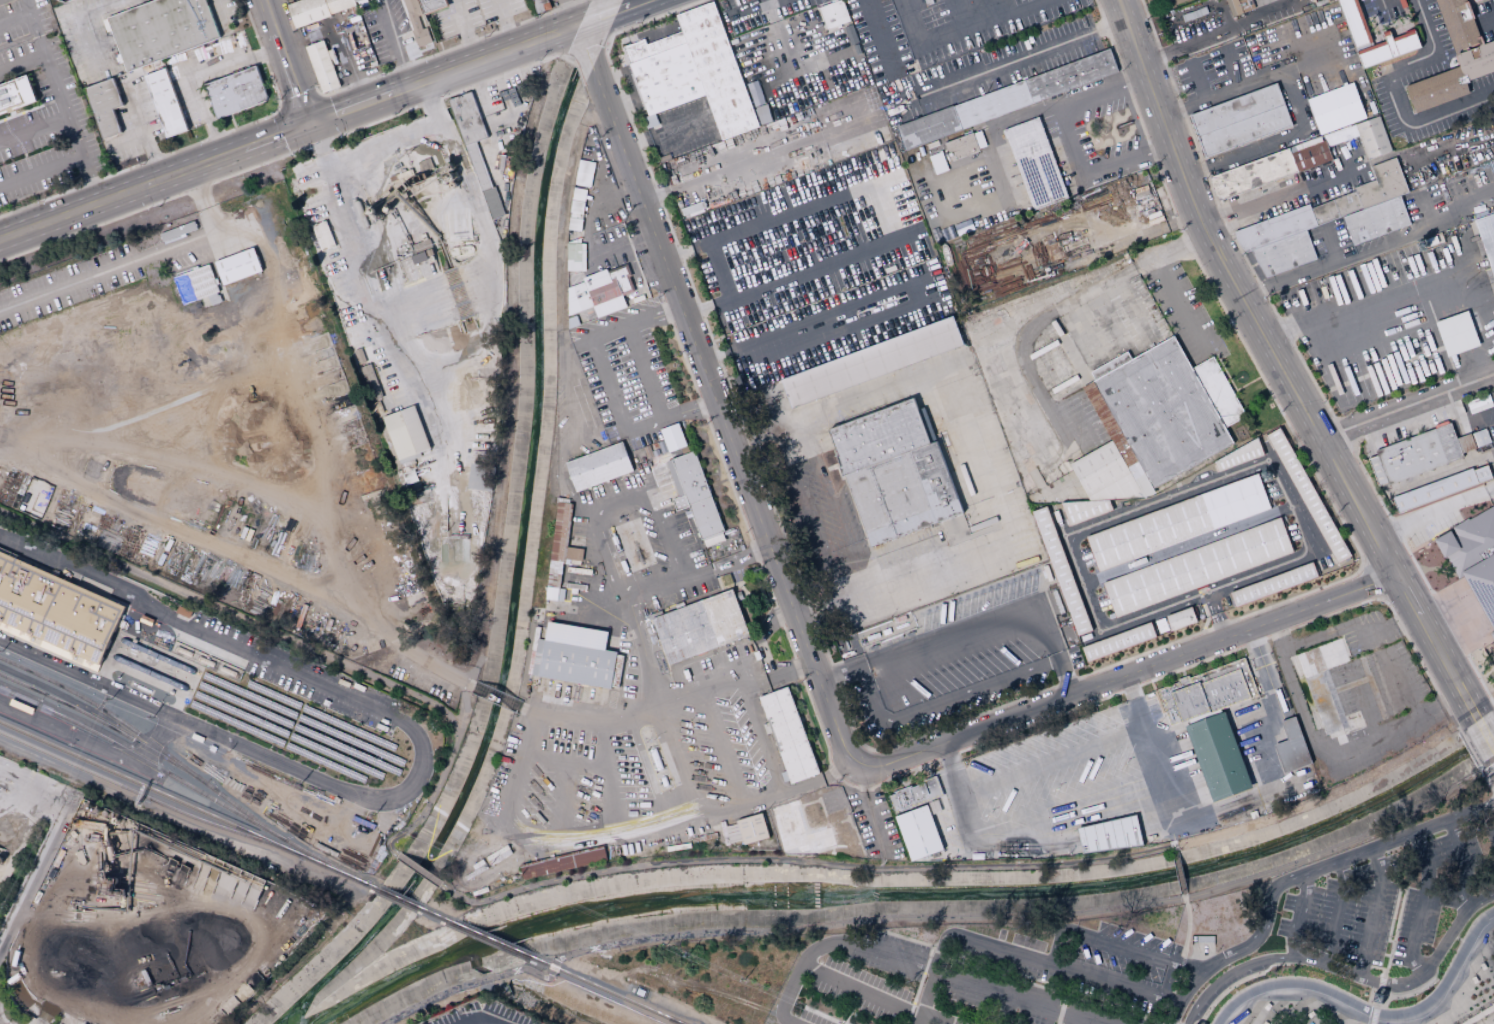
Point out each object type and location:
building: (355, 1)
road: (1120, 1)
building: (1176, 1)
road: (1382, 4)
building: (337, 5)
building: (540, 5)
building: (431, 6)
building: (1233, 7)
road: (747, 9)
road: (772, 10)
building: (306, 11)
road: (574, 12)
parking lot: (757, 13)
building: (1189, 13)
building: (833, 14)
road: (962, 15)
road: (15, 19)
road: (592, 20)
building: (415, 22)
road: (504, 23)
building: (1355, 23)
building: (1459, 25)
road: (564, 29)
building: (161, 30)
road: (464, 30)
road: (960, 32)
building: (356, 36)
road: (339, 38)
road: (880, 38)
building: (377, 41)
road: (396, 43)
road: (603, 43)
road: (1192, 43)
road: (584, 45)
building: (651, 46)
building: (1388, 49)
road: (569, 55)
road: (287, 61)
road: (476, 61)
road: (1010, 62)
building: (1477, 62)
parking lot: (797, 63)
road: (23, 65)
building: (321, 66)
road: (403, 66)
building: (716, 70)
road: (196, 74)
building: (1070, 75)
road: (54, 78)
building: (666, 78)
road: (1195, 80)
road: (628, 85)
road: (865, 86)
building: (1438, 90)
building: (236, 92)
road: (1395, 92)
building: (16, 94)
road: (319, 95)
road: (479, 97)
road: (1295, 100)
building: (166, 103)
building: (993, 104)
building: (105, 106)
building: (1336, 108)
road: (1023, 112)
road: (326, 117)
building: (466, 118)
building: (1240, 120)
building: (650, 121)
traffic signals: (311, 123)
building: (927, 127)
road: (664, 128)
road: (34, 130)
building: (1374, 137)
building: (979, 139)
road: (1071, 143)
road: (311, 145)
road: (318, 145)
road: (383, 146)
building: (960, 147)
road: (759, 156)
building: (1311, 156)
building: (937, 163)
building: (1035, 163)
building: (477, 166)
road: (40, 172)
building: (584, 173)
building: (1253, 174)
road: (89, 179)
road: (155, 180)
building: (1382, 184)
road: (1121, 186)
road: (1292, 192)
building: (578, 194)
road: (202, 199)
building: (492, 203)
building: (1348, 204)
building: (576, 207)
building: (1482, 211)
building: (1325, 212)
building: (1125, 215)
road: (1221, 216)
road: (861, 218)
building: (1376, 221)
building: (574, 224)
road: (1171, 225)
building: (1275, 228)
building: (178, 231)
road: (1414, 235)
building: (323, 236)
building: (1139, 237)
road: (1139, 237)
parking lot: (809, 238)
building: (1487, 238)
road: (1329, 243)
road: (621, 244)
road: (490, 245)
building: (1050, 249)
road: (1110, 249)
building: (1283, 254)
building: (575, 257)
building: (747, 261)
road: (129, 263)
building: (237, 266)
road: (1297, 274)
road: (995, 281)
building: (195, 284)
parking lot: (68, 285)
building: (600, 292)
road: (922, 293)
building: (1304, 296)
road: (440, 300)
road: (1340, 307)
road: (1180, 308)
road: (1053, 311)
road: (392, 316)
road: (1464, 316)
road: (635, 323)
parking lot: (1372, 327)
road: (1455, 330)
road: (1443, 332)
building: (1458, 334)
building: (871, 362)
building: (1110, 365)
road: (1278, 366)
parking lot: (633, 371)
road: (644, 373)
building: (370, 382)
building: (381, 386)
road: (607, 386)
building: (1218, 392)
road: (714, 399)
building: (1478, 404)
road: (1406, 406)
building: (378, 407)
road: (1452, 408)
building: (1163, 412)
road: (281, 413)
road: (669, 417)
road: (1477, 418)
road: (571, 426)
road: (1340, 431)
building: (405, 434)
building: (878, 437)
building: (671, 438)
road: (592, 444)
road: (1349, 444)
building: (1465, 444)
road: (1326, 450)
road: (977, 453)
building: (1414, 455)
road: (166, 456)
building: (1240, 456)
building: (598, 467)
road: (1441, 474)
building: (1483, 475)
building: (1105, 476)
building: (479, 478)
road: (717, 483)
building: (936, 483)
building: (1435, 491)
road: (1490, 494)
building: (1308, 495)
building: (695, 497)
road: (1167, 497)
building: (890, 500)
road: (833, 502)
road: (622, 503)
building: (1084, 511)
road: (1430, 516)
building: (1178, 523)
road: (1393, 527)
building: (560, 544)
road: (1188, 545)
road: (752, 546)
road: (238, 557)
building: (1474, 558)
road: (1387, 562)
building: (1197, 568)
road: (1363, 568)
road: (83, 569)
building: (1061, 571)
road: (694, 573)
road: (1375, 583)
building: (1274, 584)
road: (1403, 587)
building: (554, 594)
road: (1197, 594)
road: (1382, 598)
building: (182, 611)
building: (55, 612)
road: (1214, 615)
building: (1181, 618)
building: (145, 620)
road: (1435, 622)
building: (699, 626)
road: (972, 628)
railway: (98, 630)
road: (1278, 634)
building: (575, 635)
building: (1118, 641)
road: (302, 645)
railway: (95, 648)
road: (1465, 652)
road: (764, 655)
building: (536, 657)
building: (1324, 657)
building: (576, 664)
road: (1189, 665)
road: (280, 668)
road: (1352, 670)
building: (616, 671)
road: (1129, 674)
road: (1357, 682)
road: (1400, 682)
building: (1350, 684)
building: (1373, 687)
road: (691, 688)
building: (1207, 691)
road: (496, 697)
road: (943, 700)
building: (1325, 702)
road: (1006, 704)
road: (1493, 705)
building: (21, 706)
road: (659, 709)
road: (1272, 709)
railway: (105, 712)
road: (1368, 712)
road: (1303, 715)
road: (1484, 733)
building: (787, 735)
road: (1146, 740)
road: (154, 742)
road: (78, 743)
road: (237, 743)
road: (723, 744)
railway: (143, 745)
building: (1292, 747)
road: (1468, 748)
building: (1217, 757)
railway: (139, 758)
road: (1050, 758)
road: (566, 762)
road: (520, 771)
road: (611, 775)
road: (910, 776)
road: (1486, 780)
road: (898, 781)
road: (26, 791)
railway: (138, 793)
building: (914, 795)
road: (562, 800)
railway: (180, 801)
road: (1486, 804)
road: (869, 808)
road: (1096, 818)
road: (1486, 821)
parking lot: (872, 823)
road: (664, 826)
building: (751, 829)
building: (798, 830)
building: (918, 833)
building: (1110, 835)
road: (14, 853)
railway: (318, 858)
building: (562, 862)
road: (805, 862)
road: (1463, 863)
road: (35, 870)
road: (419, 870)
road: (1179, 871)
road: (1180, 872)
road: (1291, 878)
railway: (369, 885)
railway: (399, 899)
road: (1421, 903)
parking lot: (1385, 904)
road: (1336, 912)
road: (1373, 912)
railway: (436, 915)
road: (939, 917)
road: (1295, 923)
road: (1187, 924)
road: (959, 937)
road: (1391, 937)
railway: (493, 940)
road: (830, 943)
road: (1115, 945)
road: (1238, 968)
road: (1420, 974)
road: (1012, 975)
parking lot: (981, 979)
road: (1472, 988)
road: (860, 989)
road: (1173, 989)
railway: (608, 991)
road: (924, 998)
road: (1061, 1008)
road: (850, 1010)
road: (1293, 1013)
road: (42, 1015)
road: (821, 1015)
building: (1480, 1015)
road: (1480, 1015)
road: (937, 1016)
road: (2, 1018)
road: (1375, 1019)
road: (1486, 1019)
road: (481, 1020)
road: (939, 1021)

